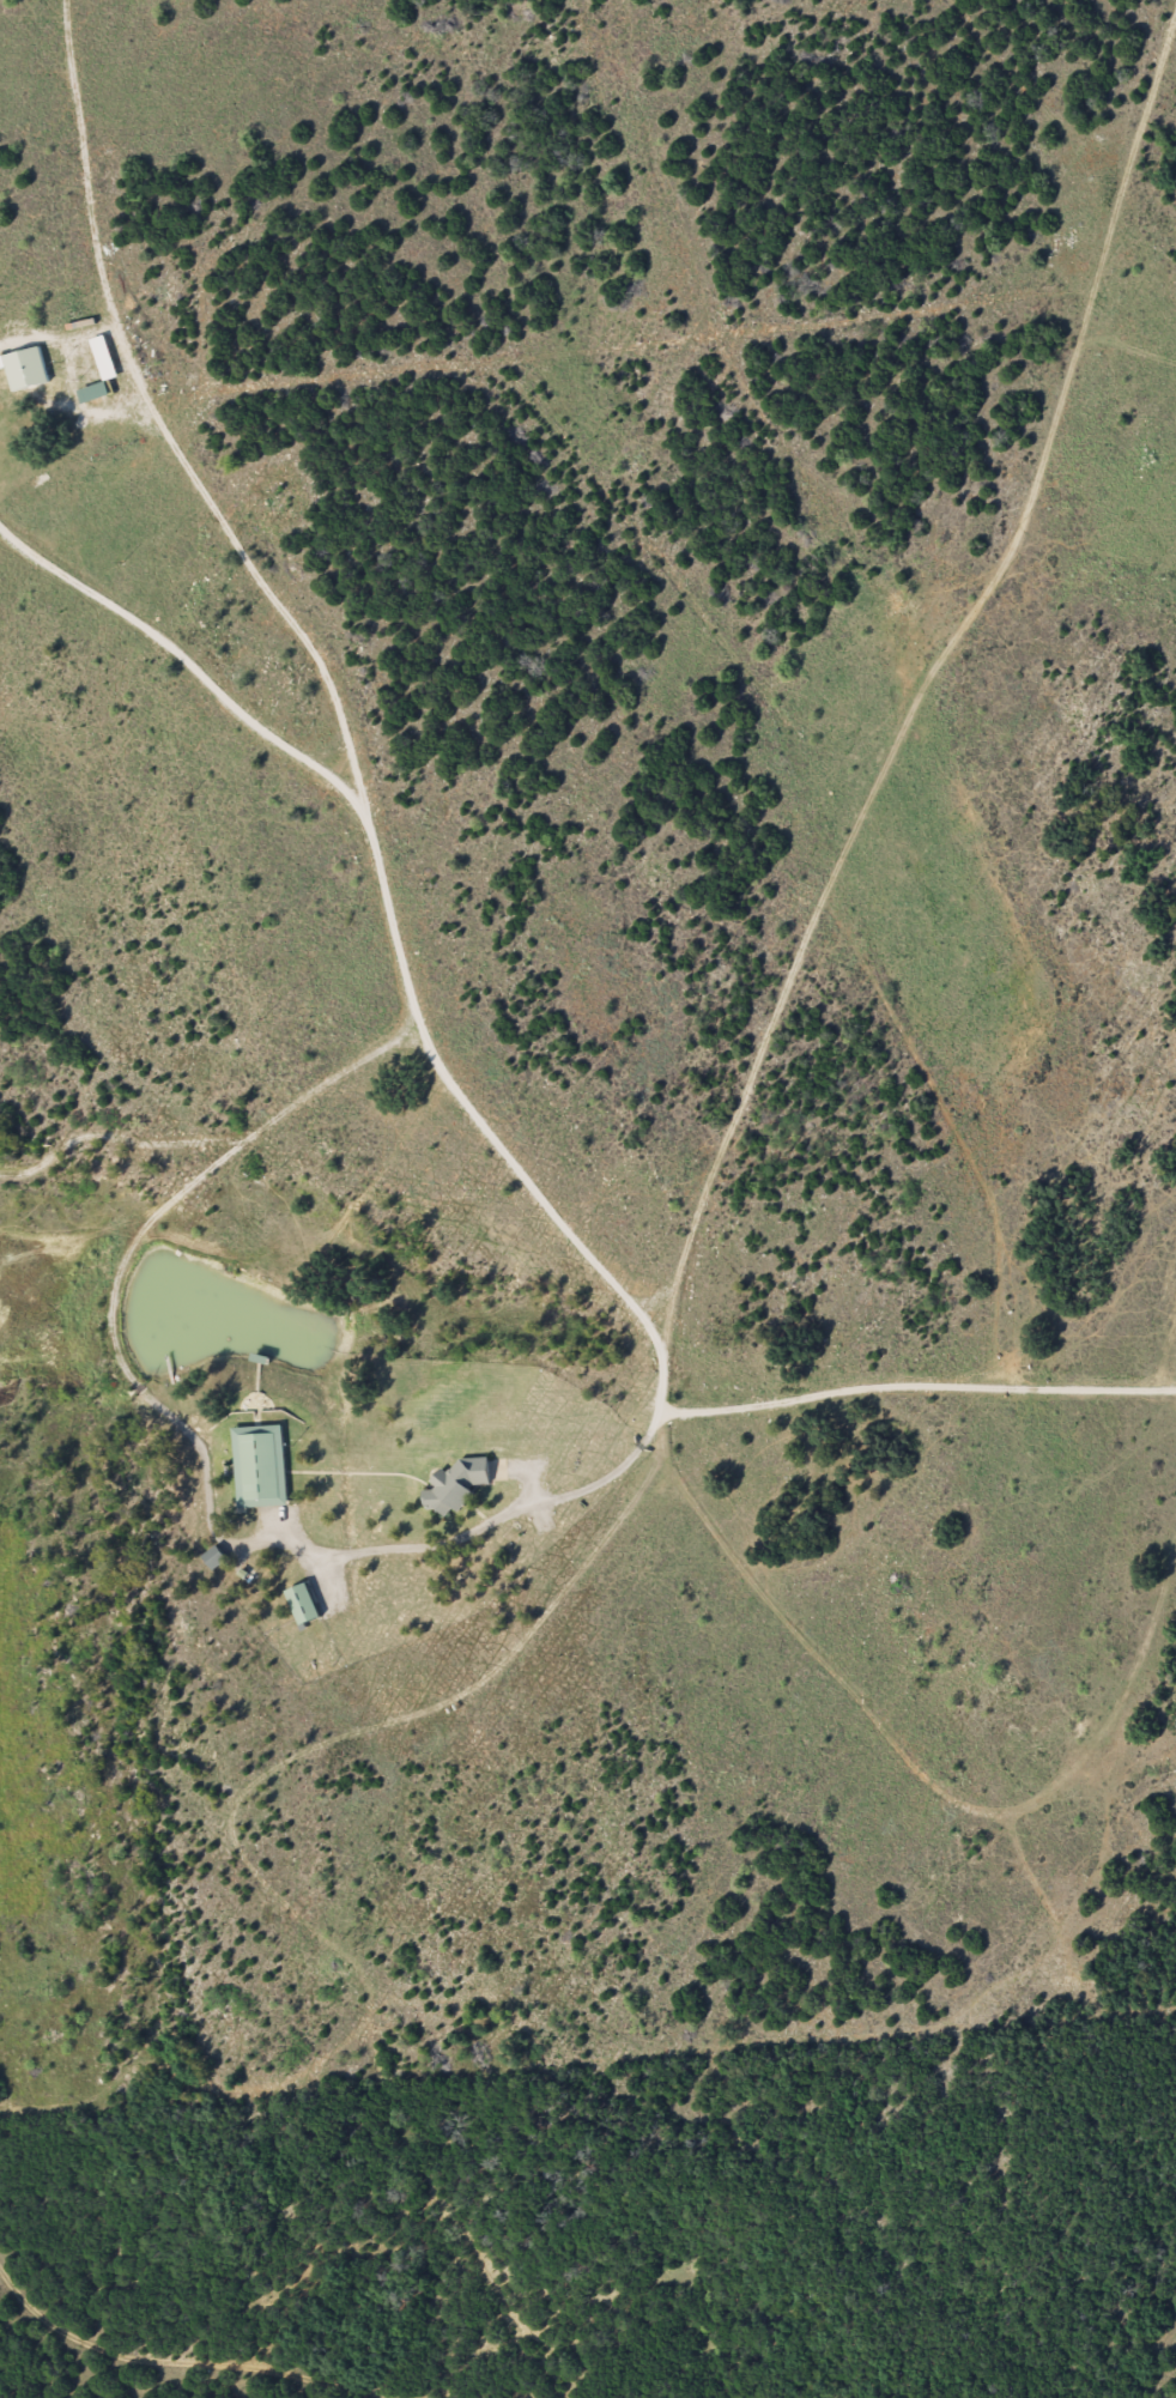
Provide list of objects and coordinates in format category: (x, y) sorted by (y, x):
road: (971, 34)
building: (254, 1469)
building: (448, 1488)
building: (208, 1561)
building: (296, 1606)
road: (74, 2343)

